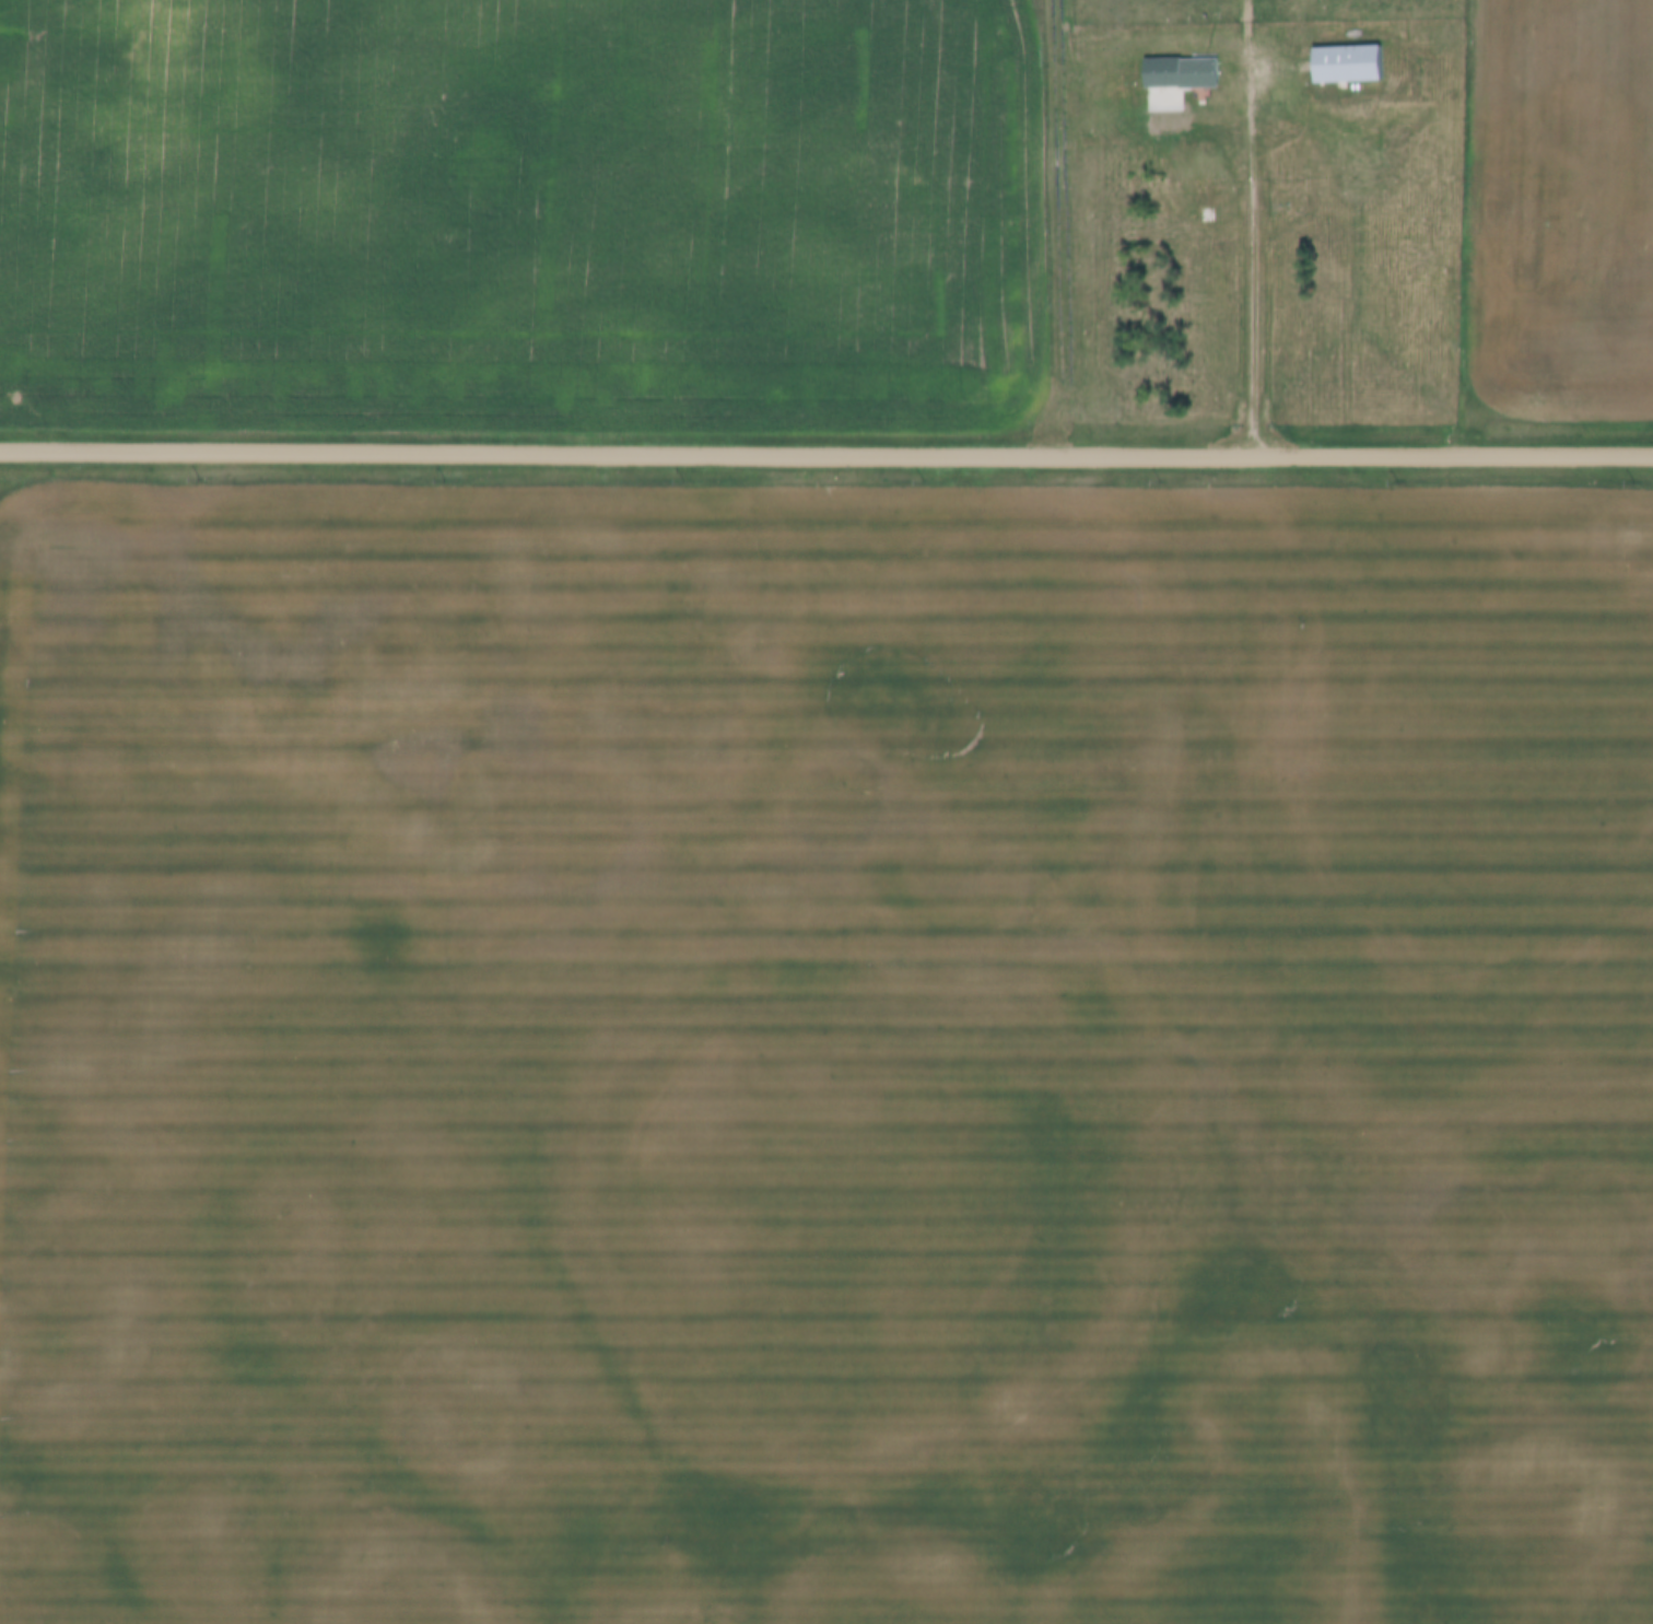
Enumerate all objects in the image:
road: (1242, 10)
building: (1173, 59)
building: (1361, 145)
road: (1252, 236)
road: (825, 453)

